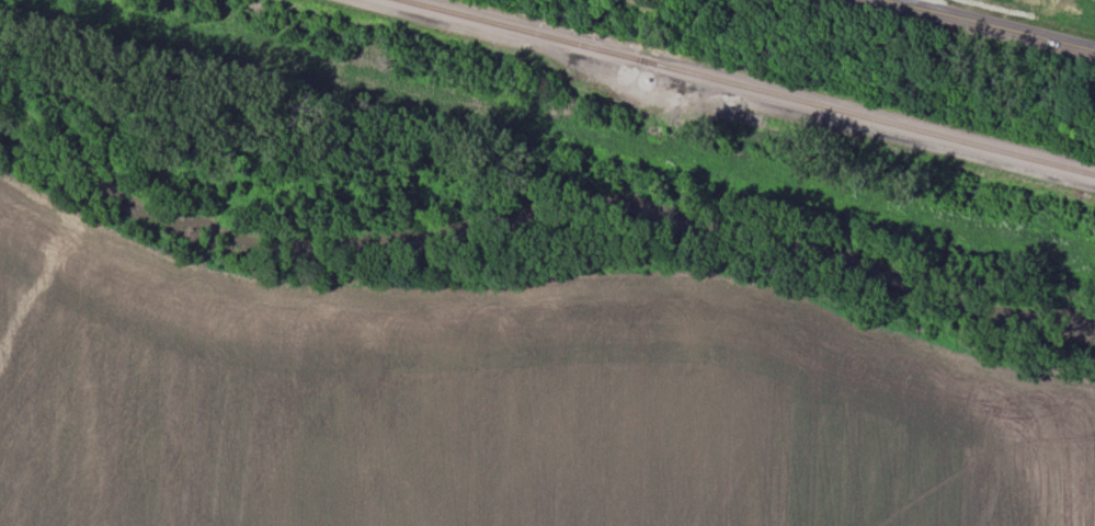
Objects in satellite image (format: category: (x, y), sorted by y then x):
road: (920, 3)
road: (991, 24)
railway: (751, 87)

